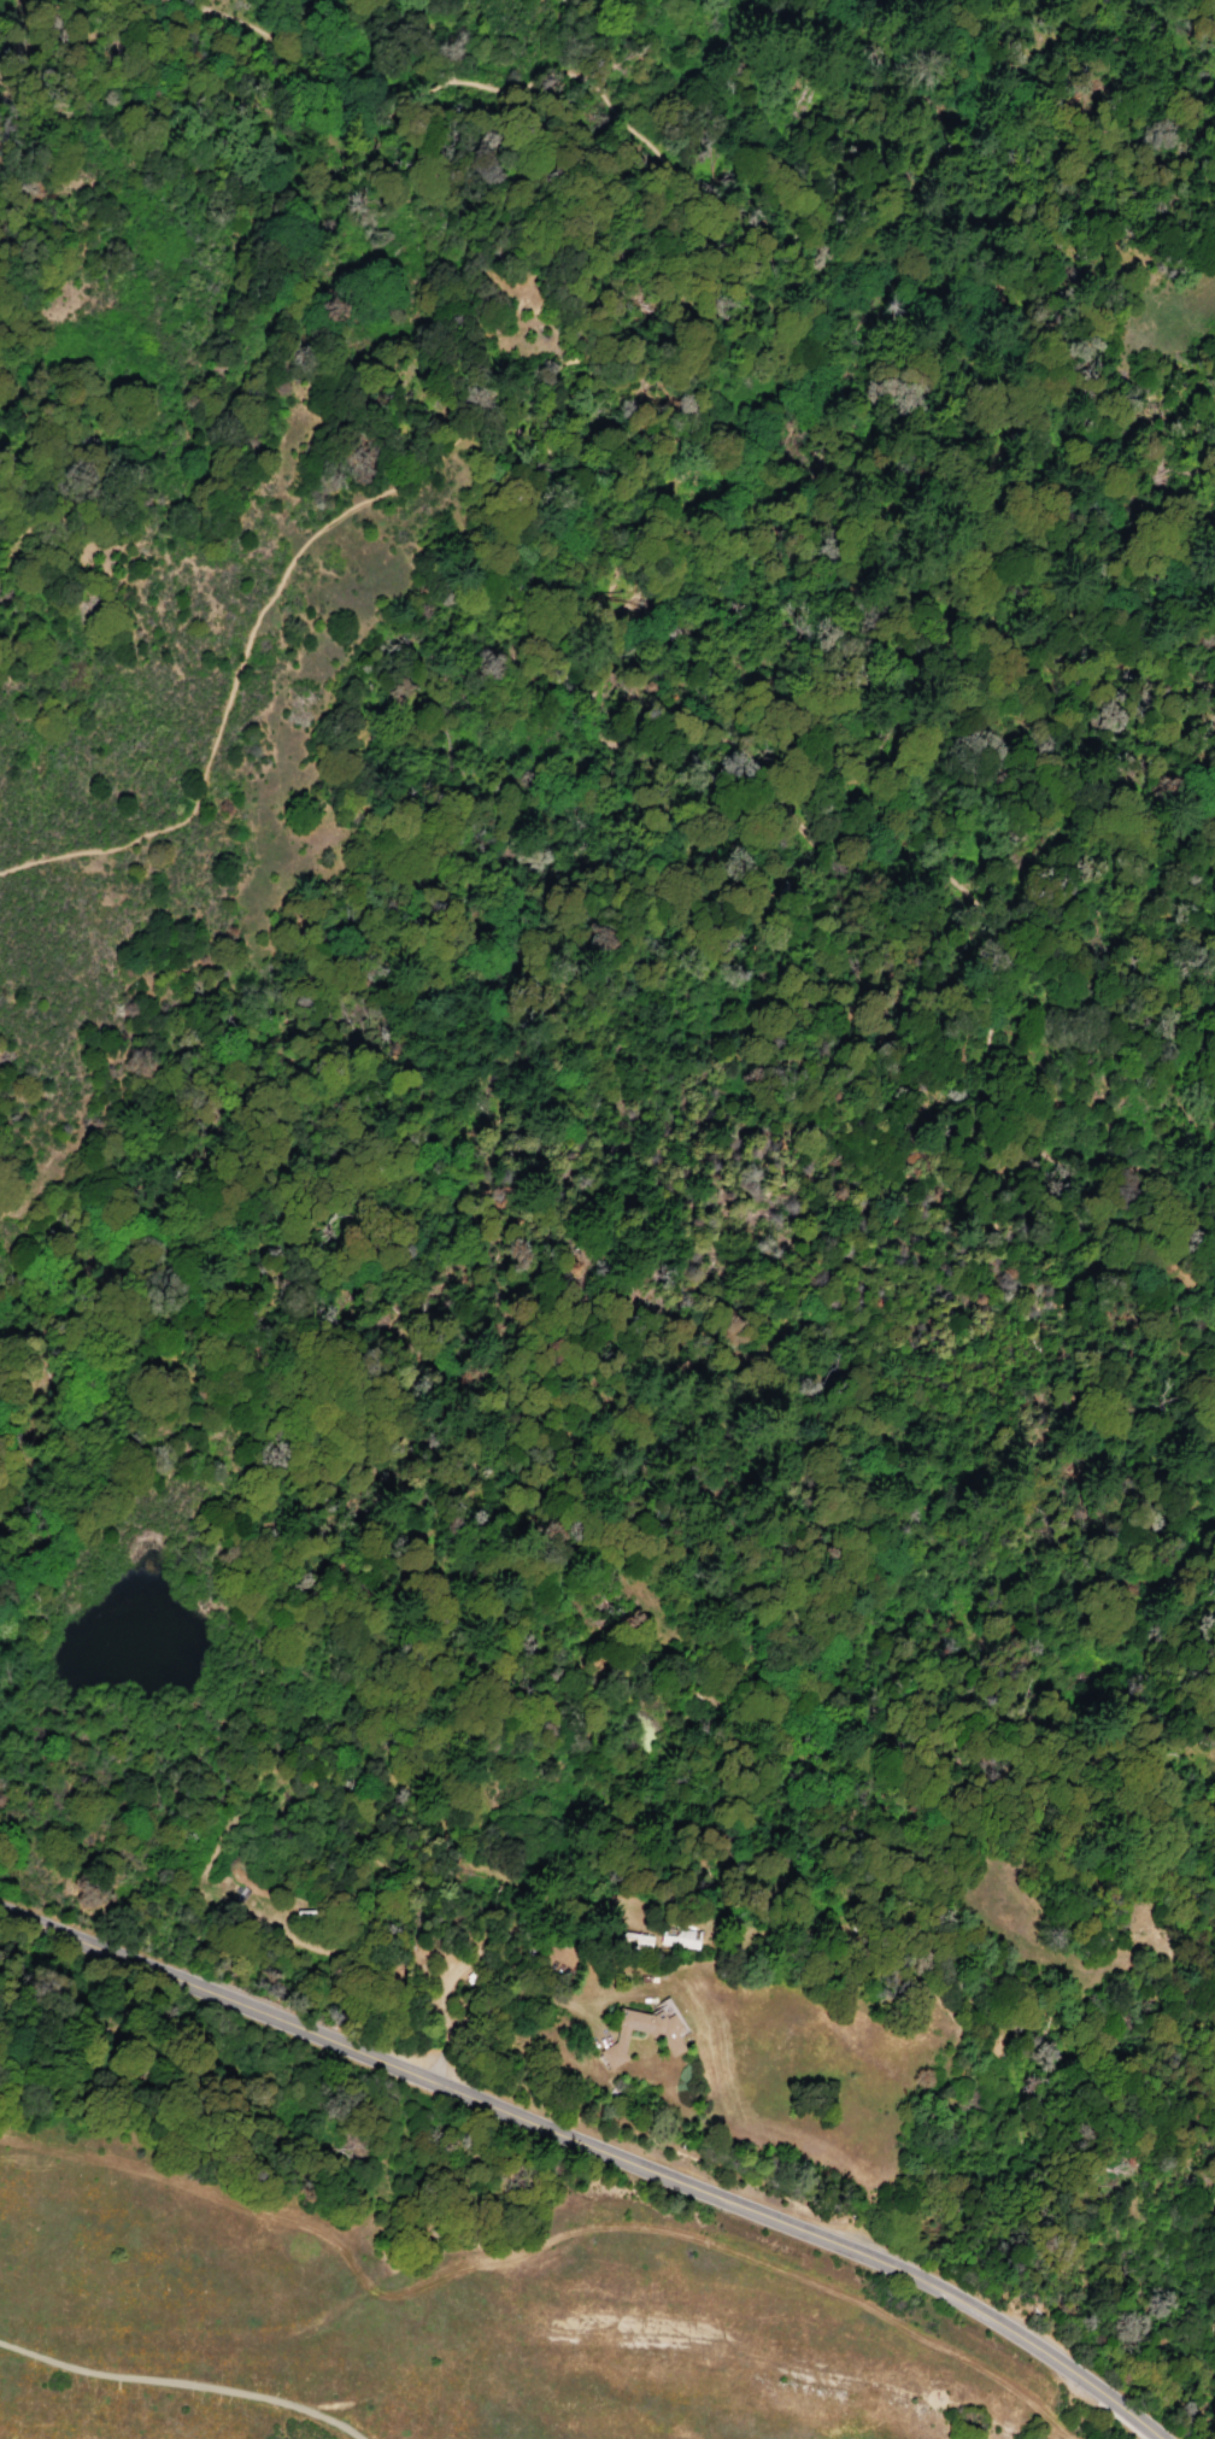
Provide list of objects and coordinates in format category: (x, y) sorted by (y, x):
road: (370, 498)
road: (630, 609)
building: (680, 1937)
building: (645, 1939)
road: (270, 2017)
building: (644, 2030)
road: (862, 2256)
road: (181, 2385)

